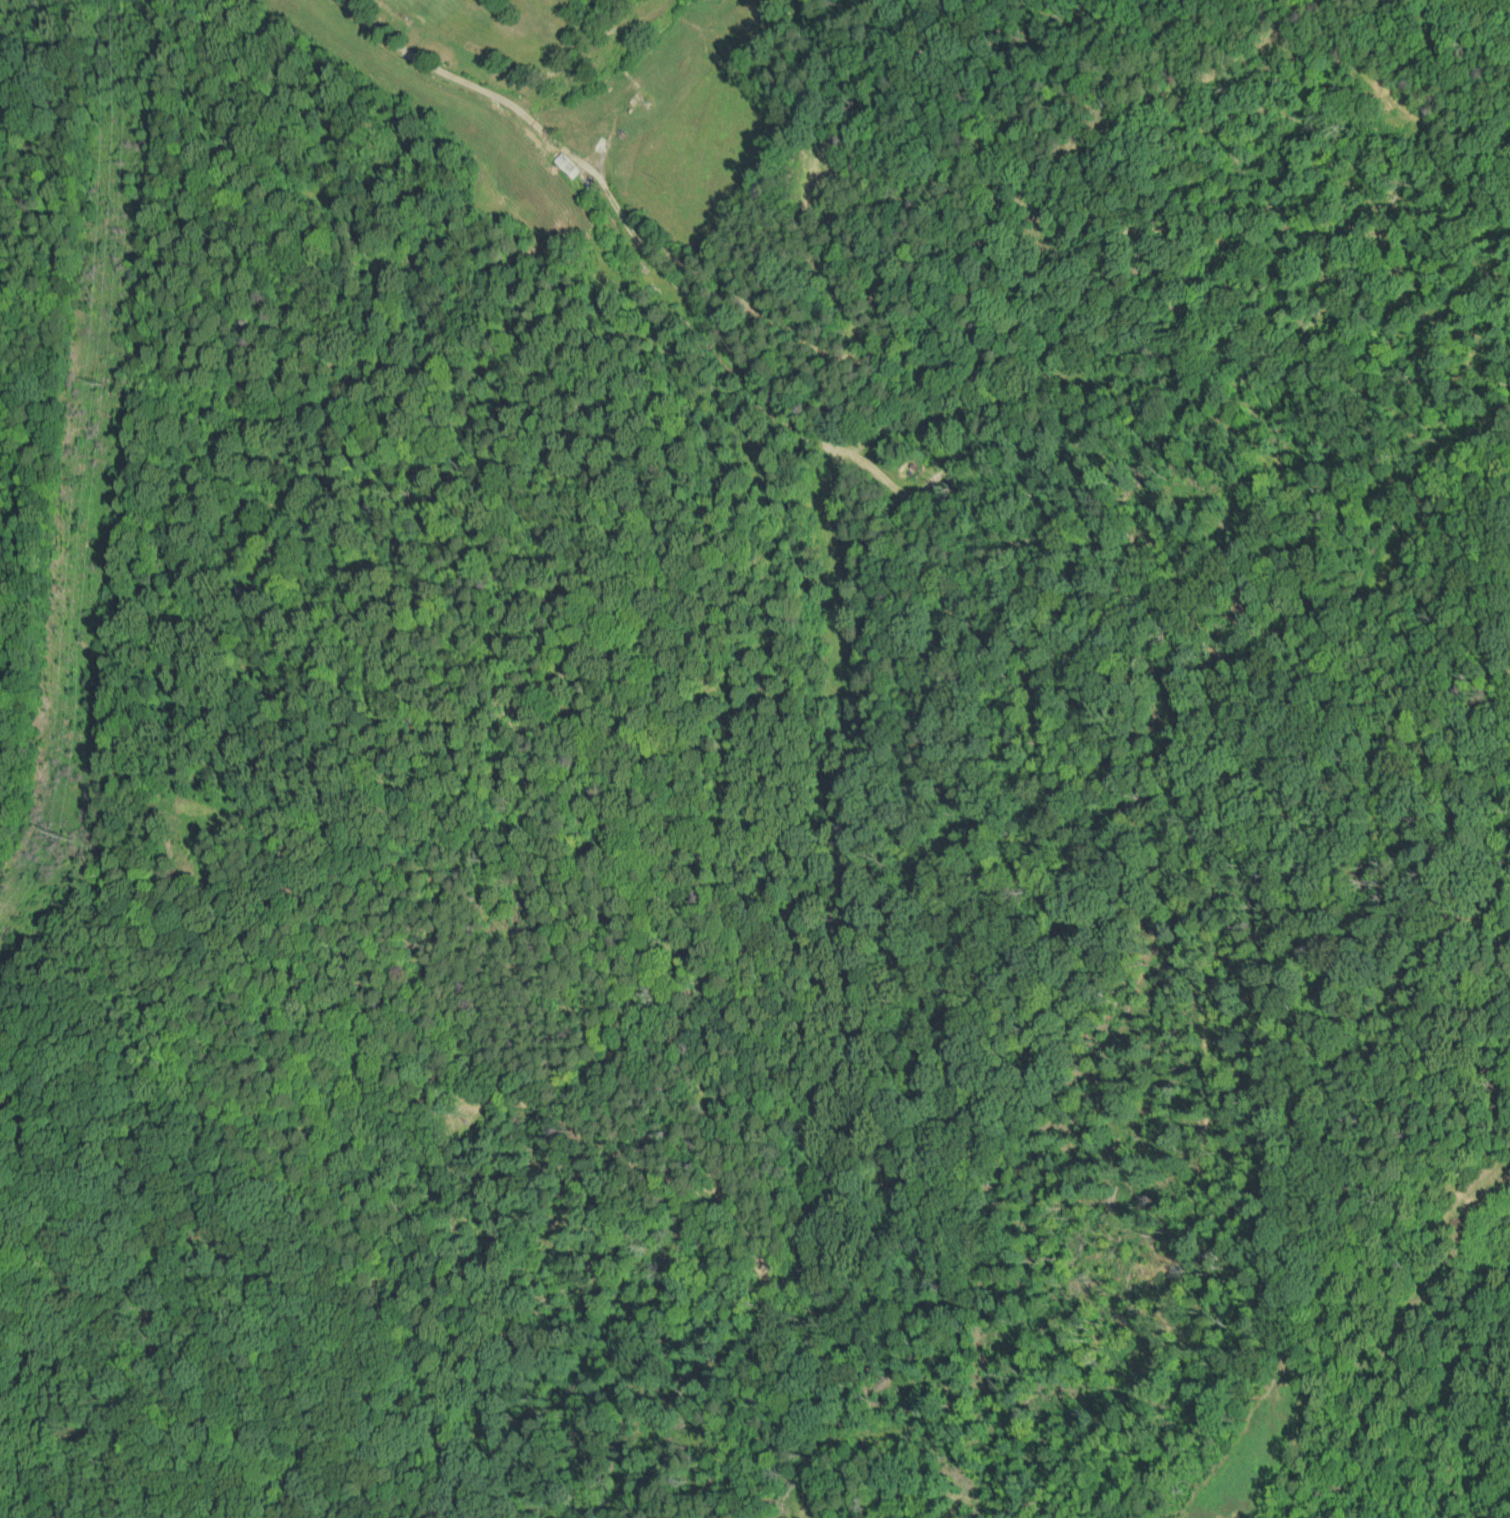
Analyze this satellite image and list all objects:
power tower: (101, 384)
road: (648, 482)
road: (22, 775)
power tower: (60, 829)
road: (569, 999)
road: (602, 1358)
road: (363, 1447)

